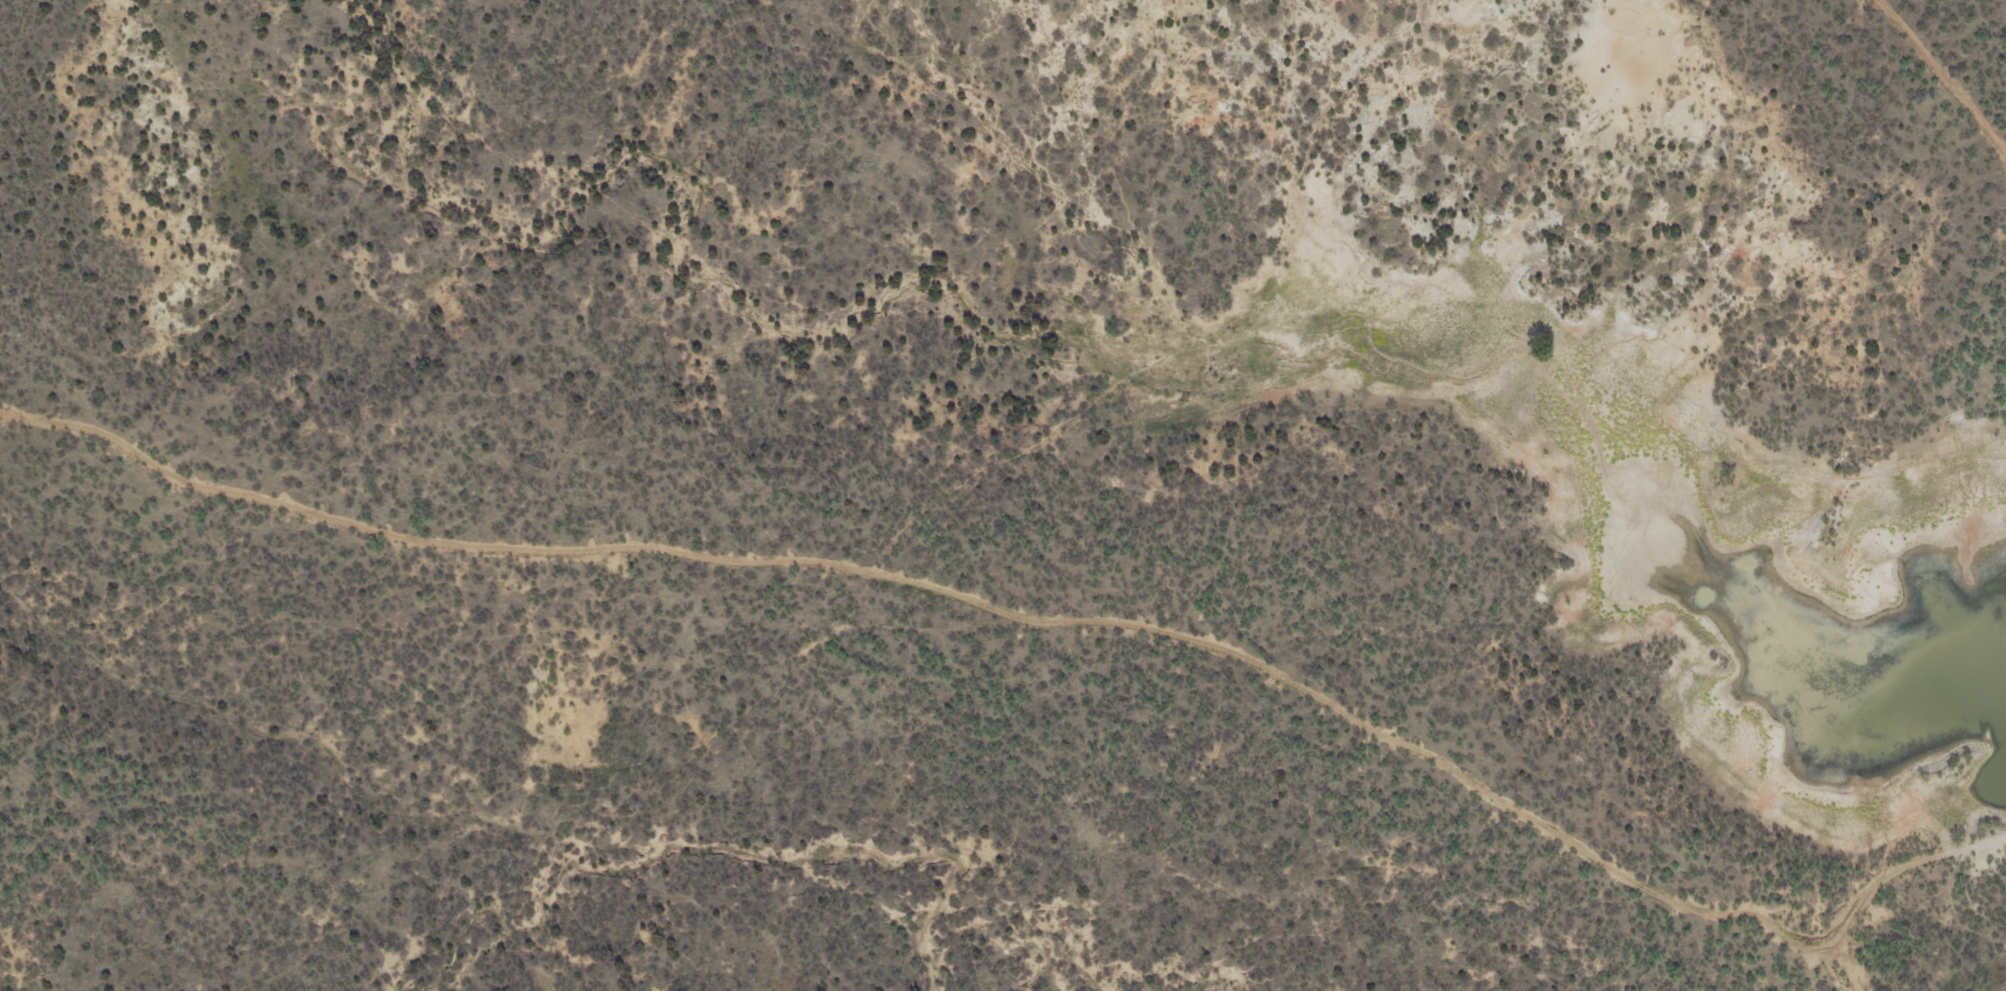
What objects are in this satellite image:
road: (1676, 852)
road: (1886, 904)

